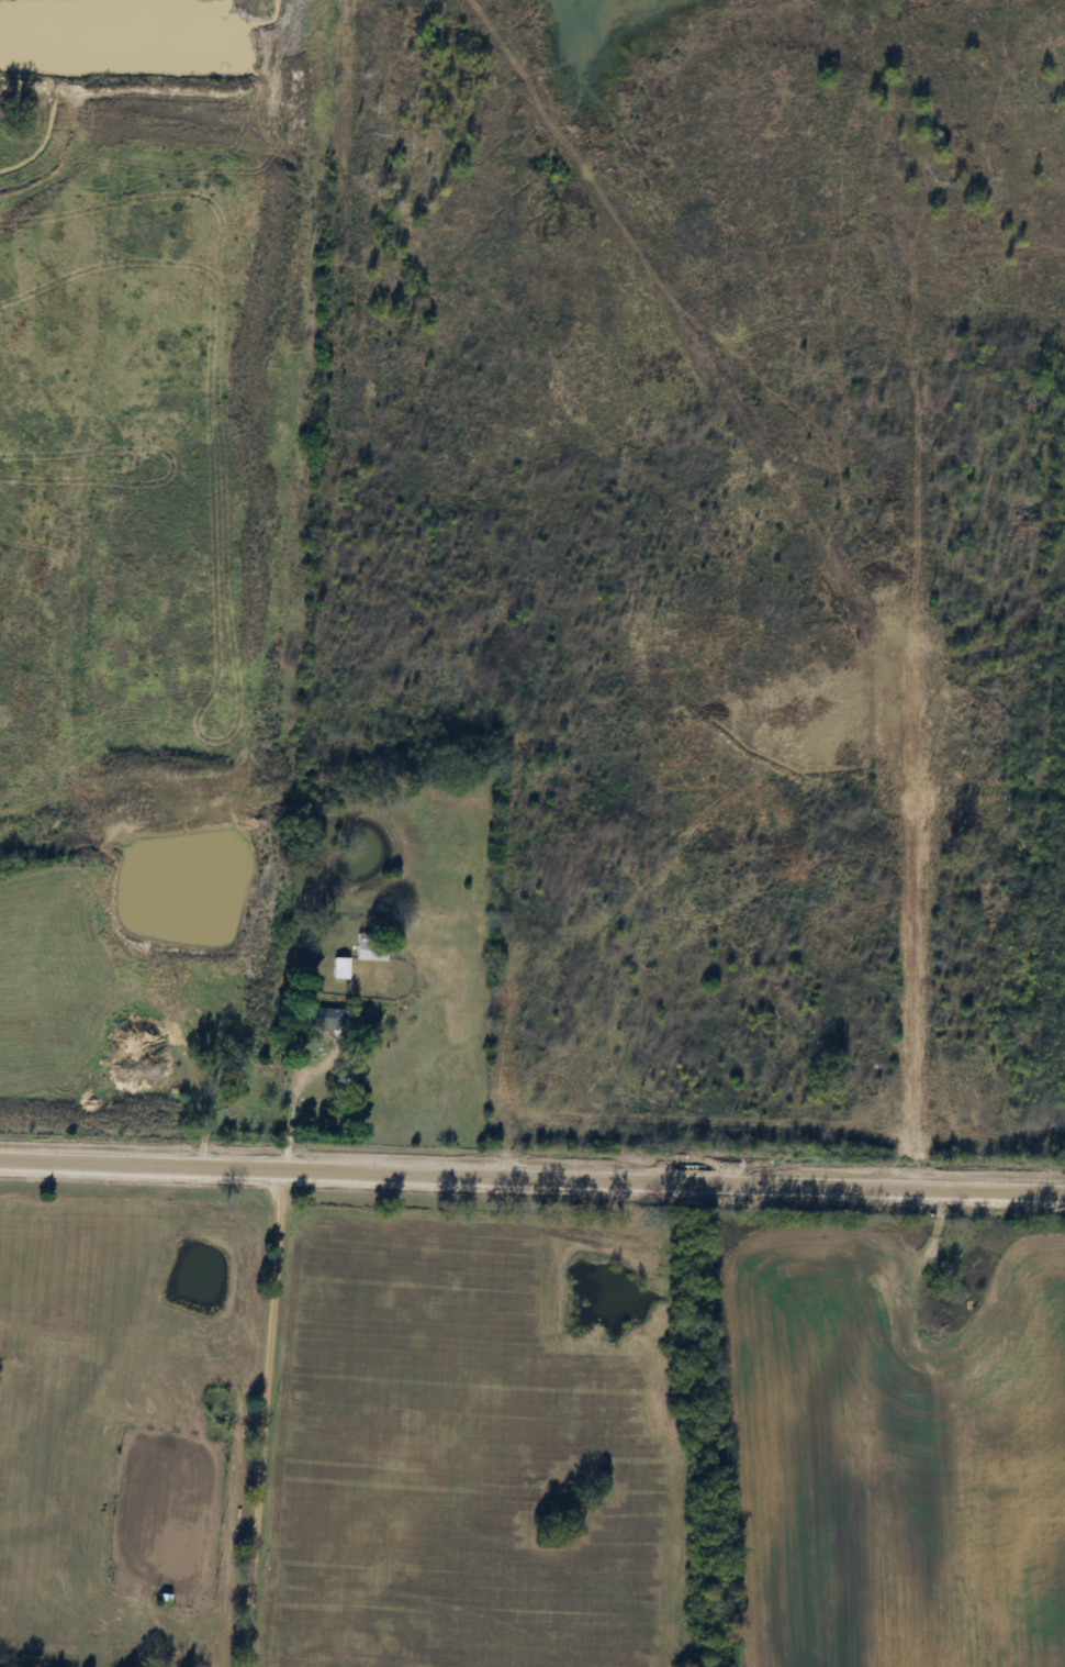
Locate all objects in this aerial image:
building: (368, 949)
building: (337, 968)
road: (292, 1111)
road: (531, 1174)
road: (266, 1416)

